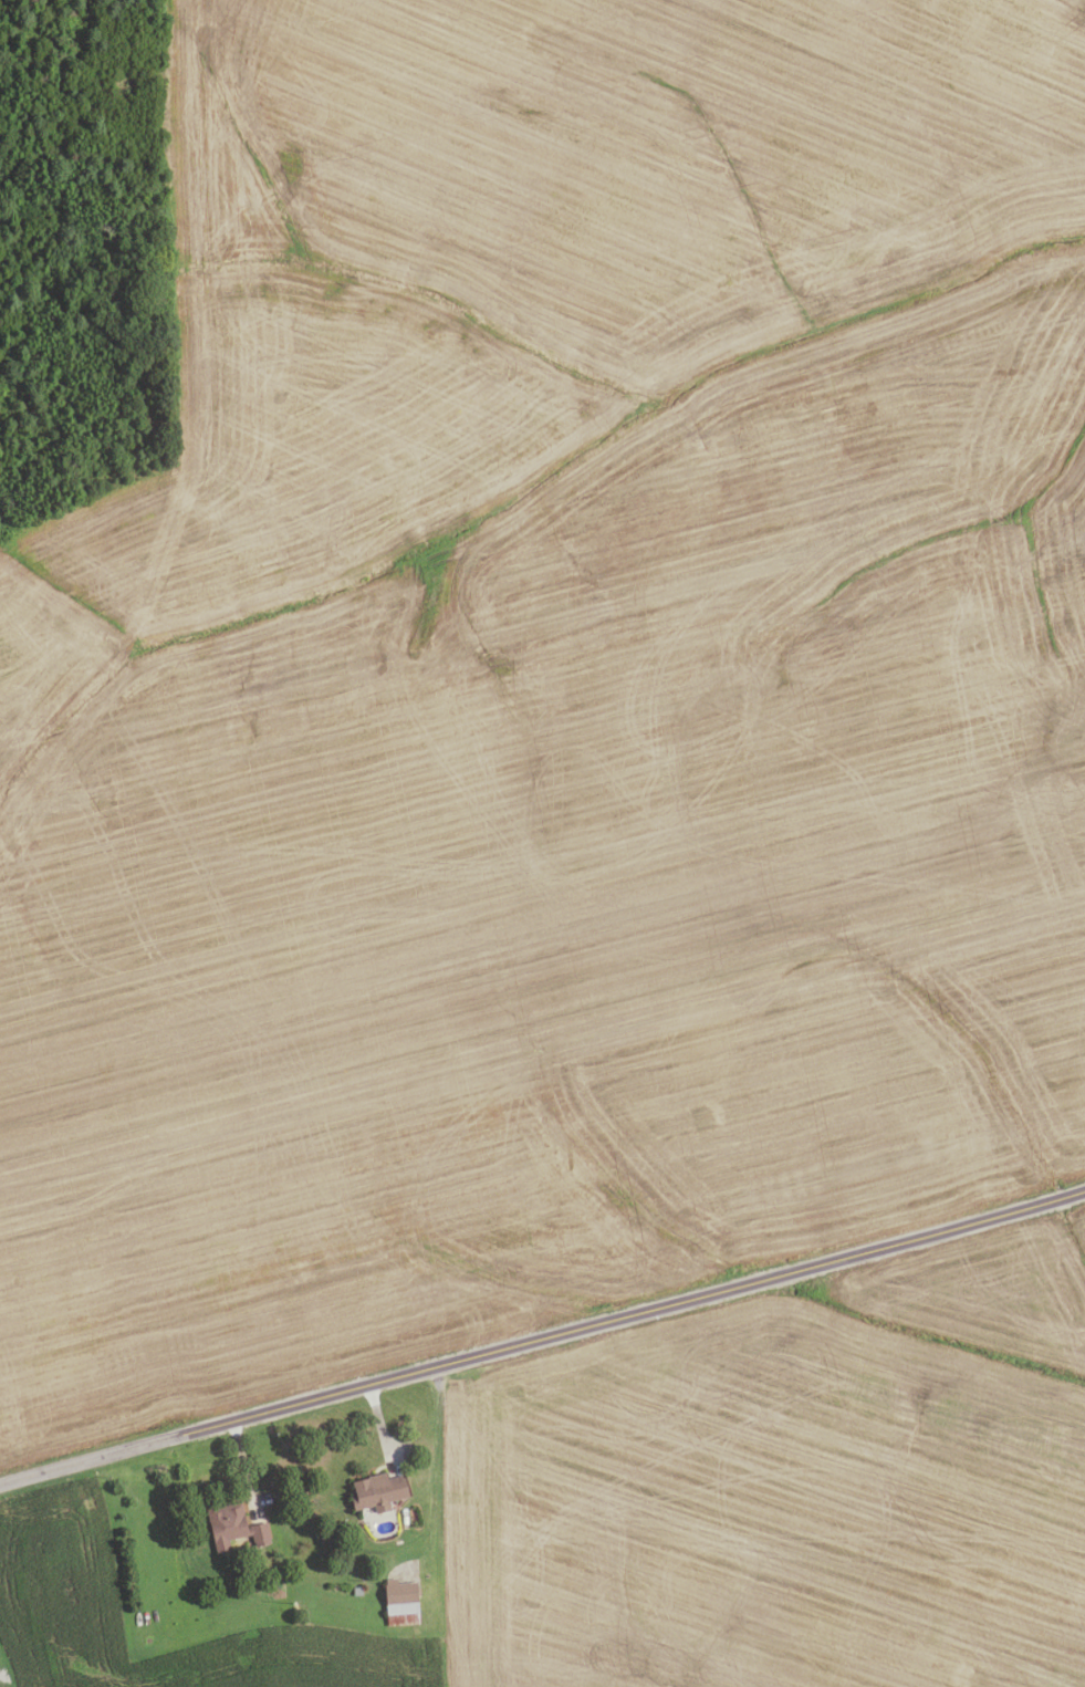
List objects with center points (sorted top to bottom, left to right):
crop: (550, 691)
road: (633, 1313)
road: (382, 1427)
road: (91, 1460)
road: (436, 1465)
road: (243, 1468)
building: (377, 1491)
building: (234, 1532)
building: (400, 1603)

